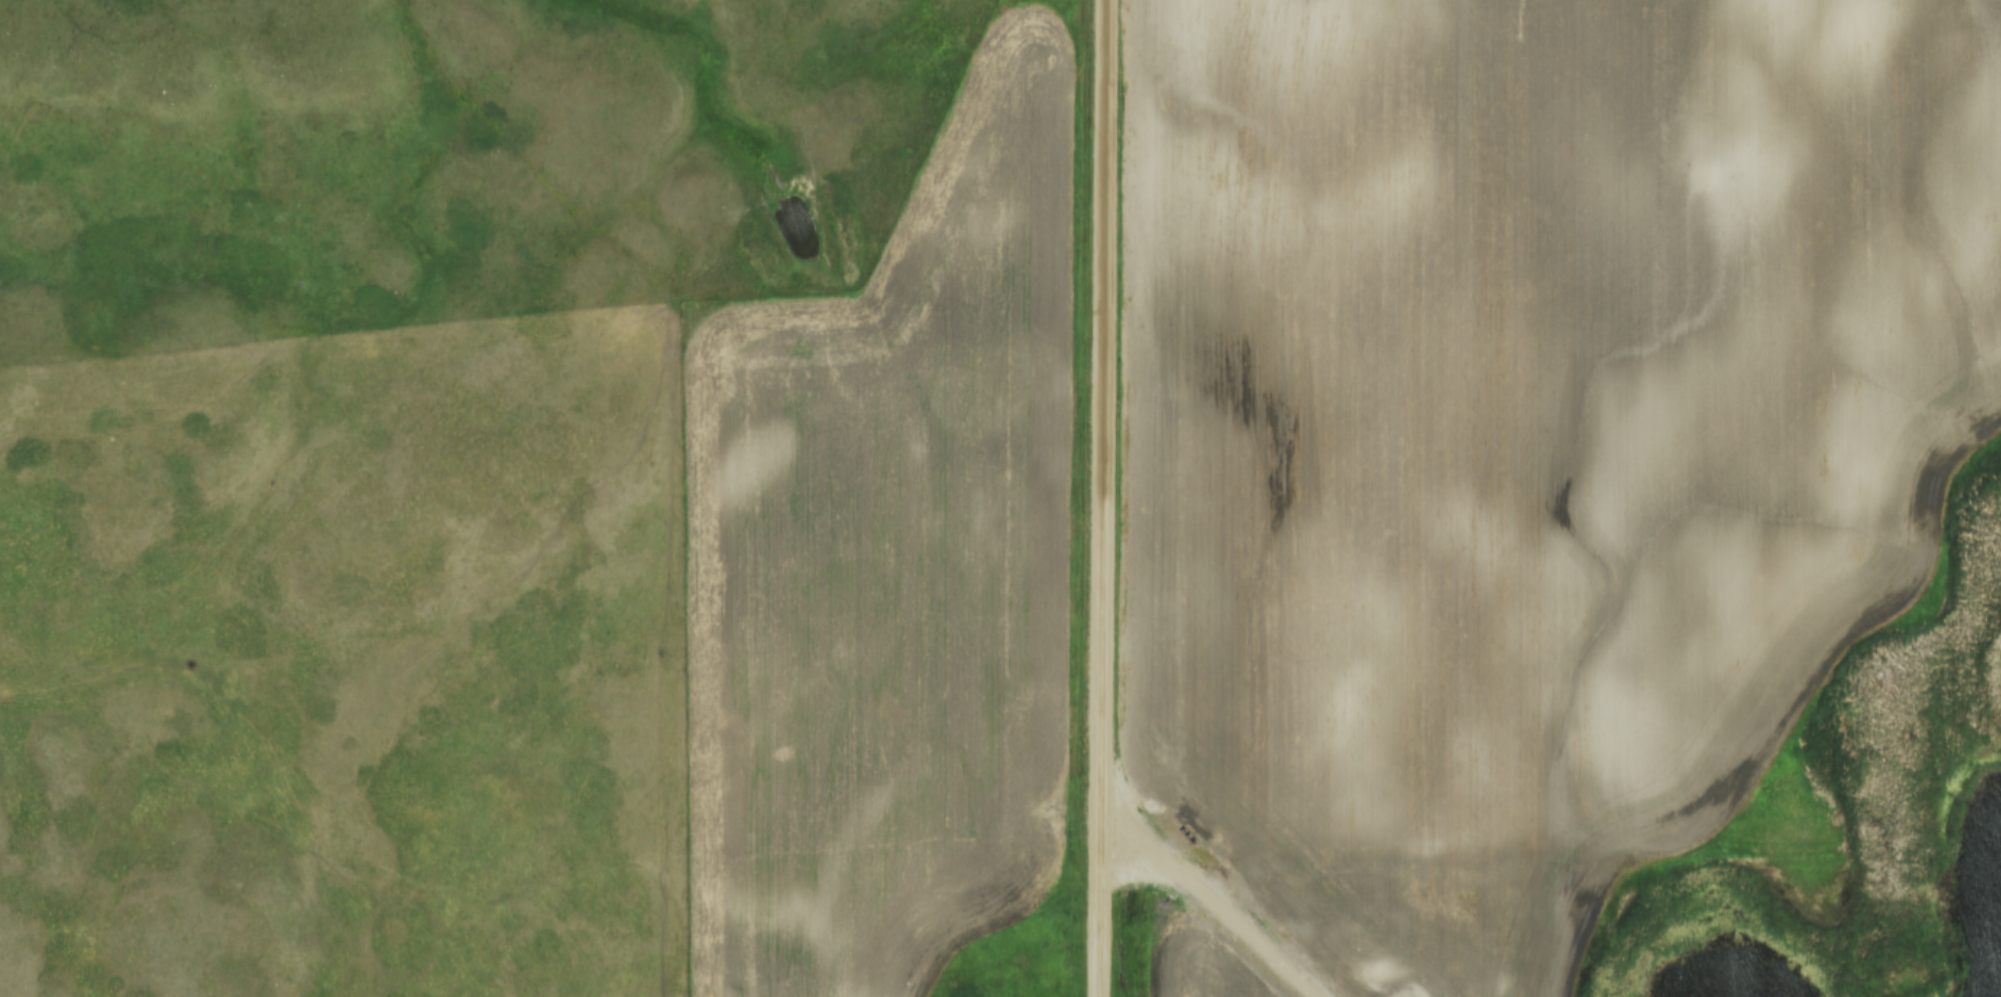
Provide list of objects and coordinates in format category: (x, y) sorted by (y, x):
road: (1104, 498)
road: (1334, 862)

